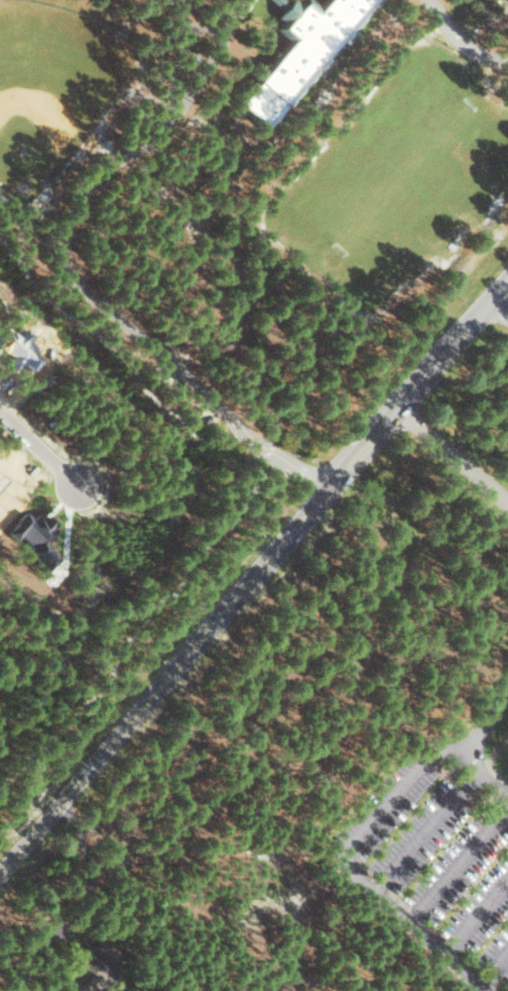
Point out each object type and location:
building: (279, 3)
road: (461, 40)
building: (303, 50)
park: (52, 91)
road: (495, 321)
road: (42, 444)
road: (451, 459)
road: (244, 505)
road: (253, 577)
road: (496, 726)
road: (480, 780)
road: (425, 834)
road: (349, 864)
road: (460, 866)
road: (478, 918)
building: (94, 968)
road: (499, 978)

